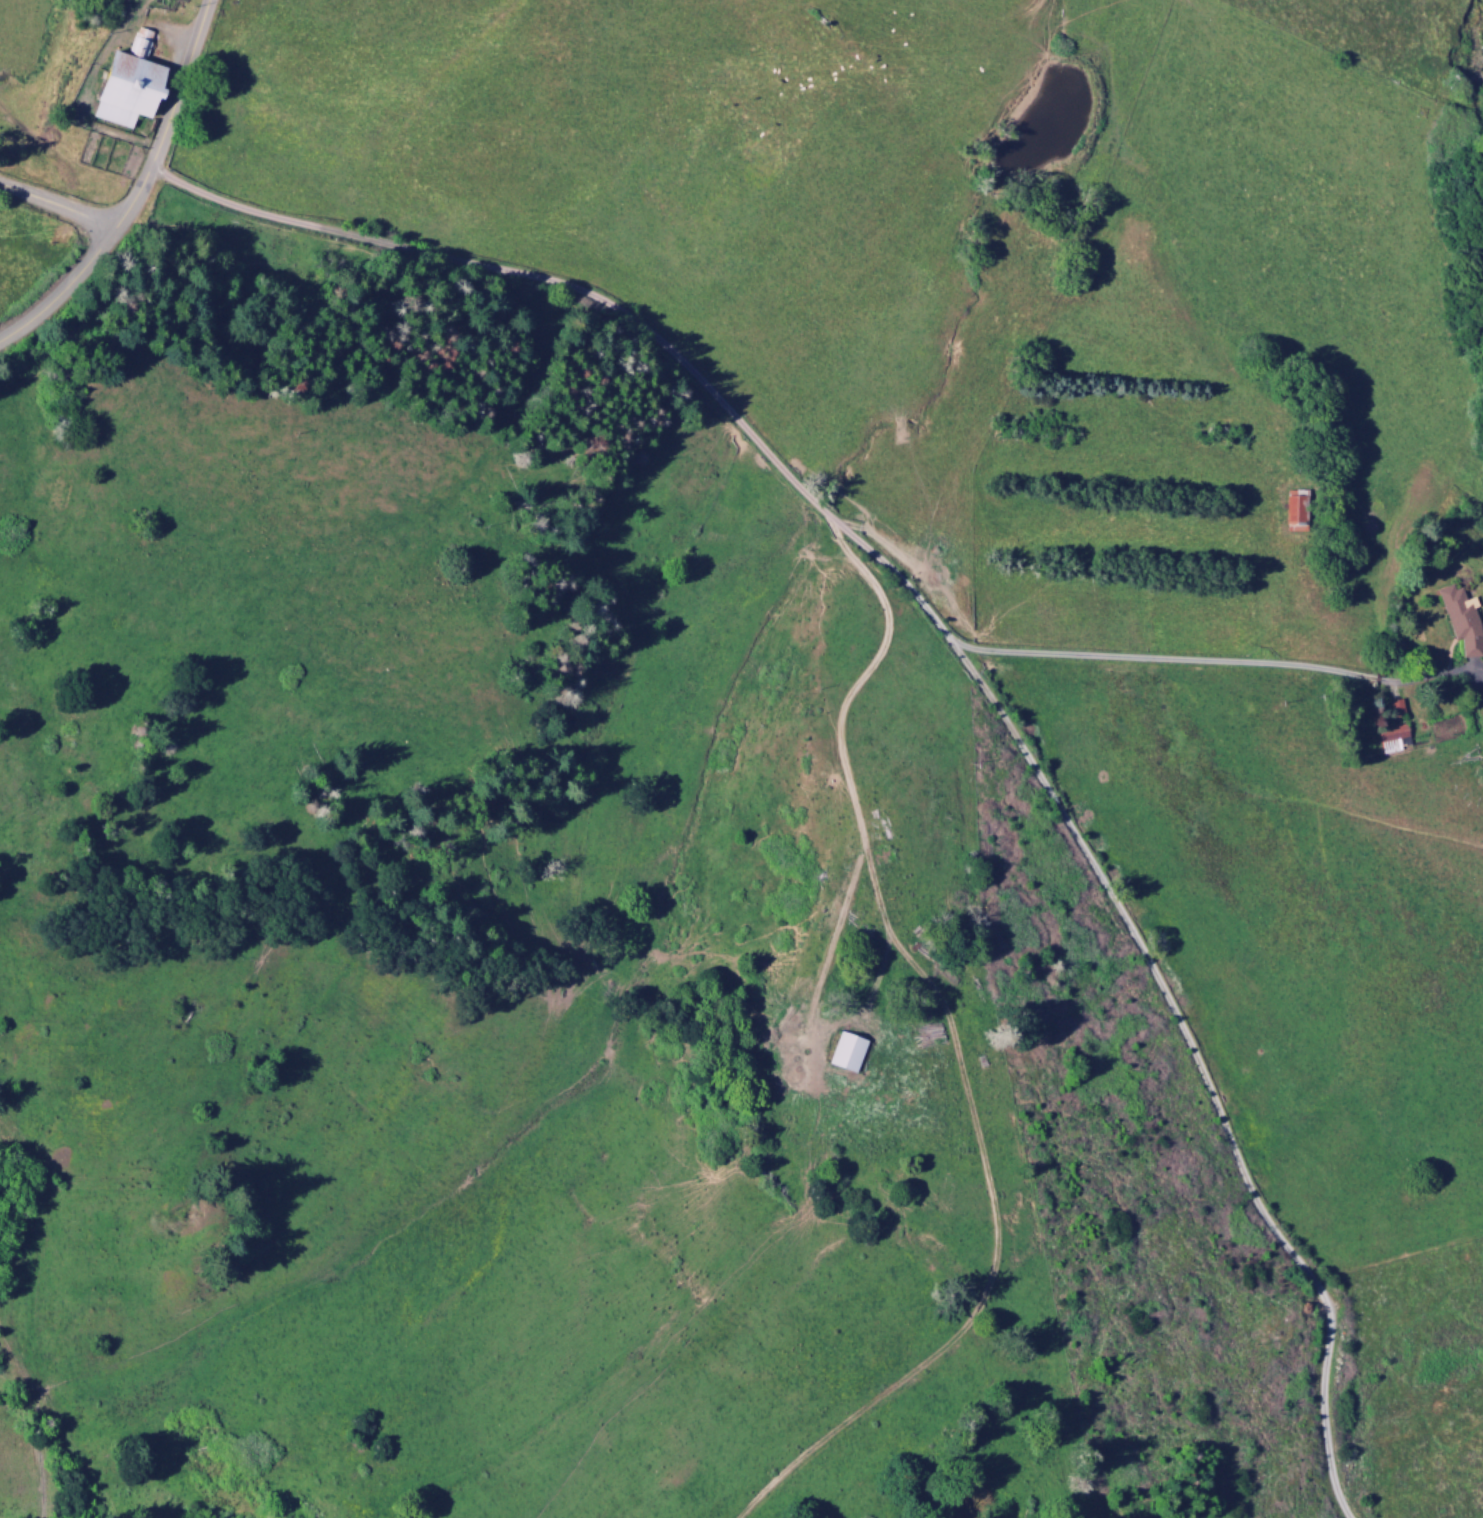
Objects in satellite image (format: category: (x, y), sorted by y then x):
building: (123, 83)
road: (177, 84)
road: (88, 217)
road: (61, 288)
road: (609, 304)
building: (1290, 510)
building: (1458, 620)
road: (1170, 659)
building: (1393, 709)
building: (1390, 738)
road: (952, 1046)
building: (844, 1053)
road: (1196, 1066)

